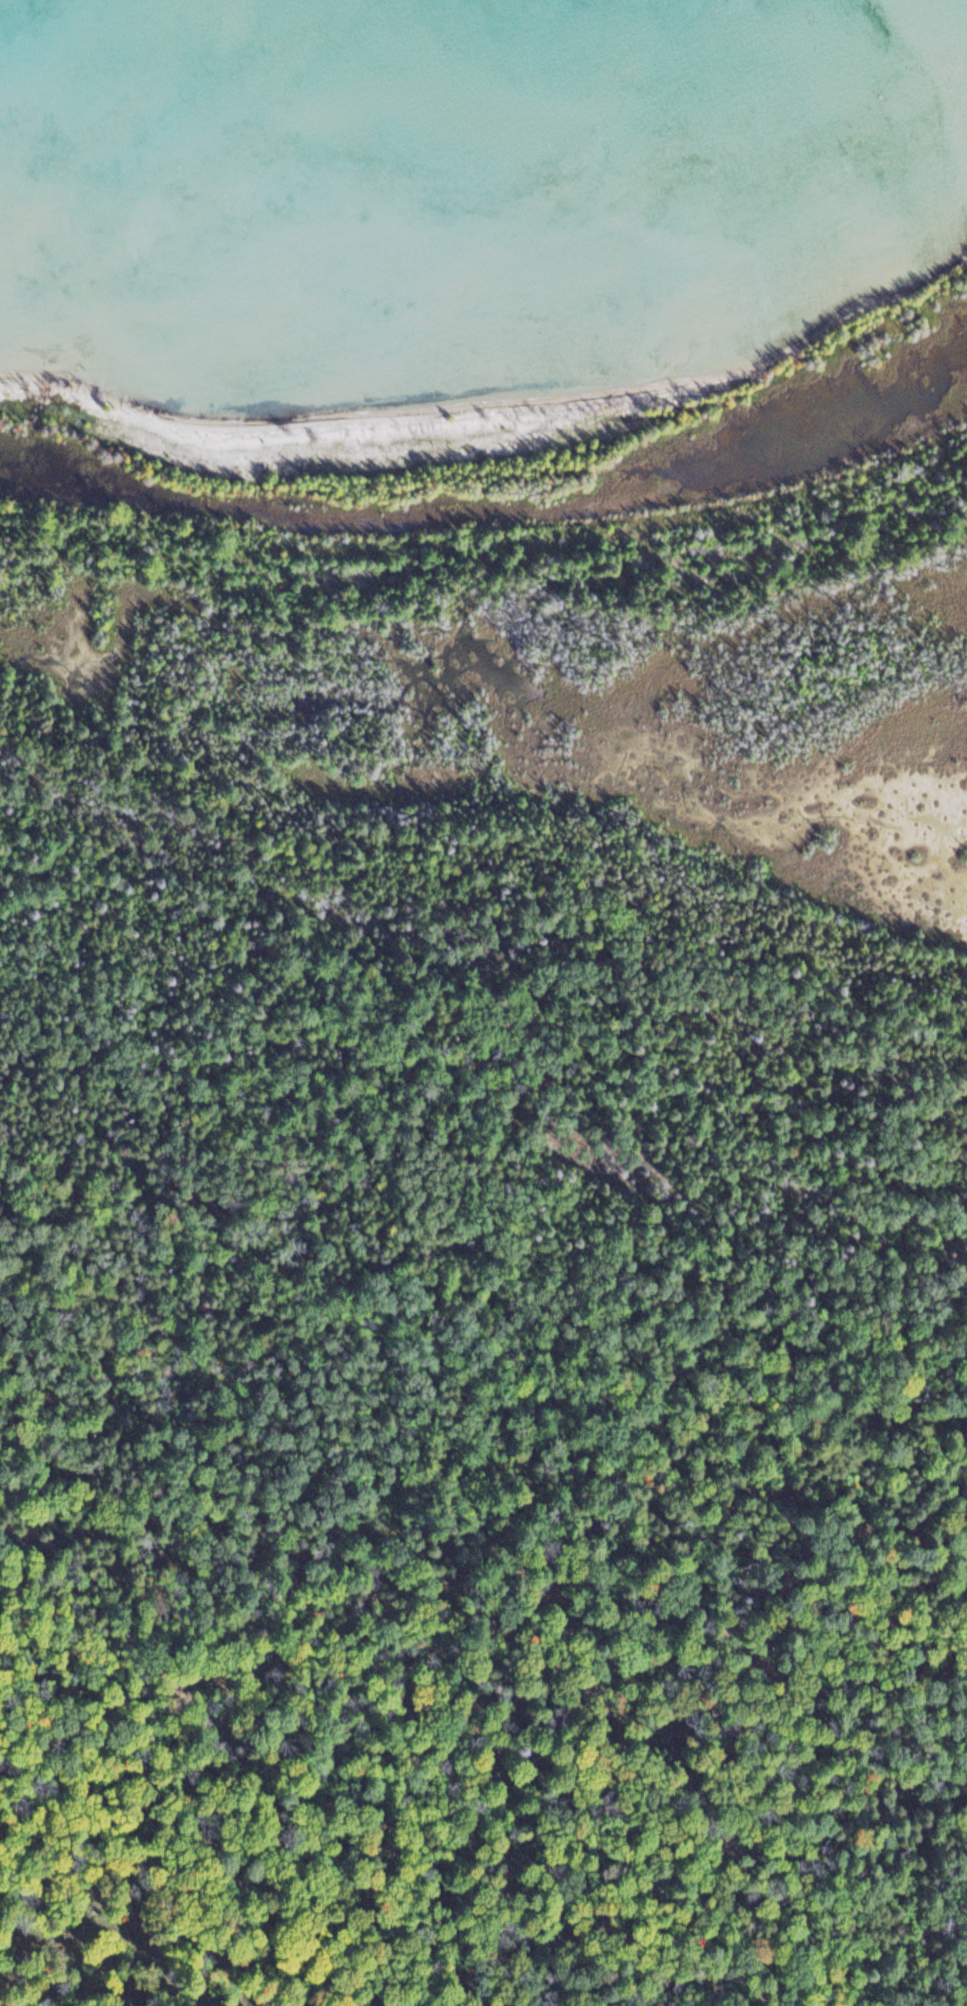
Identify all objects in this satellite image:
road: (32, 1984)

